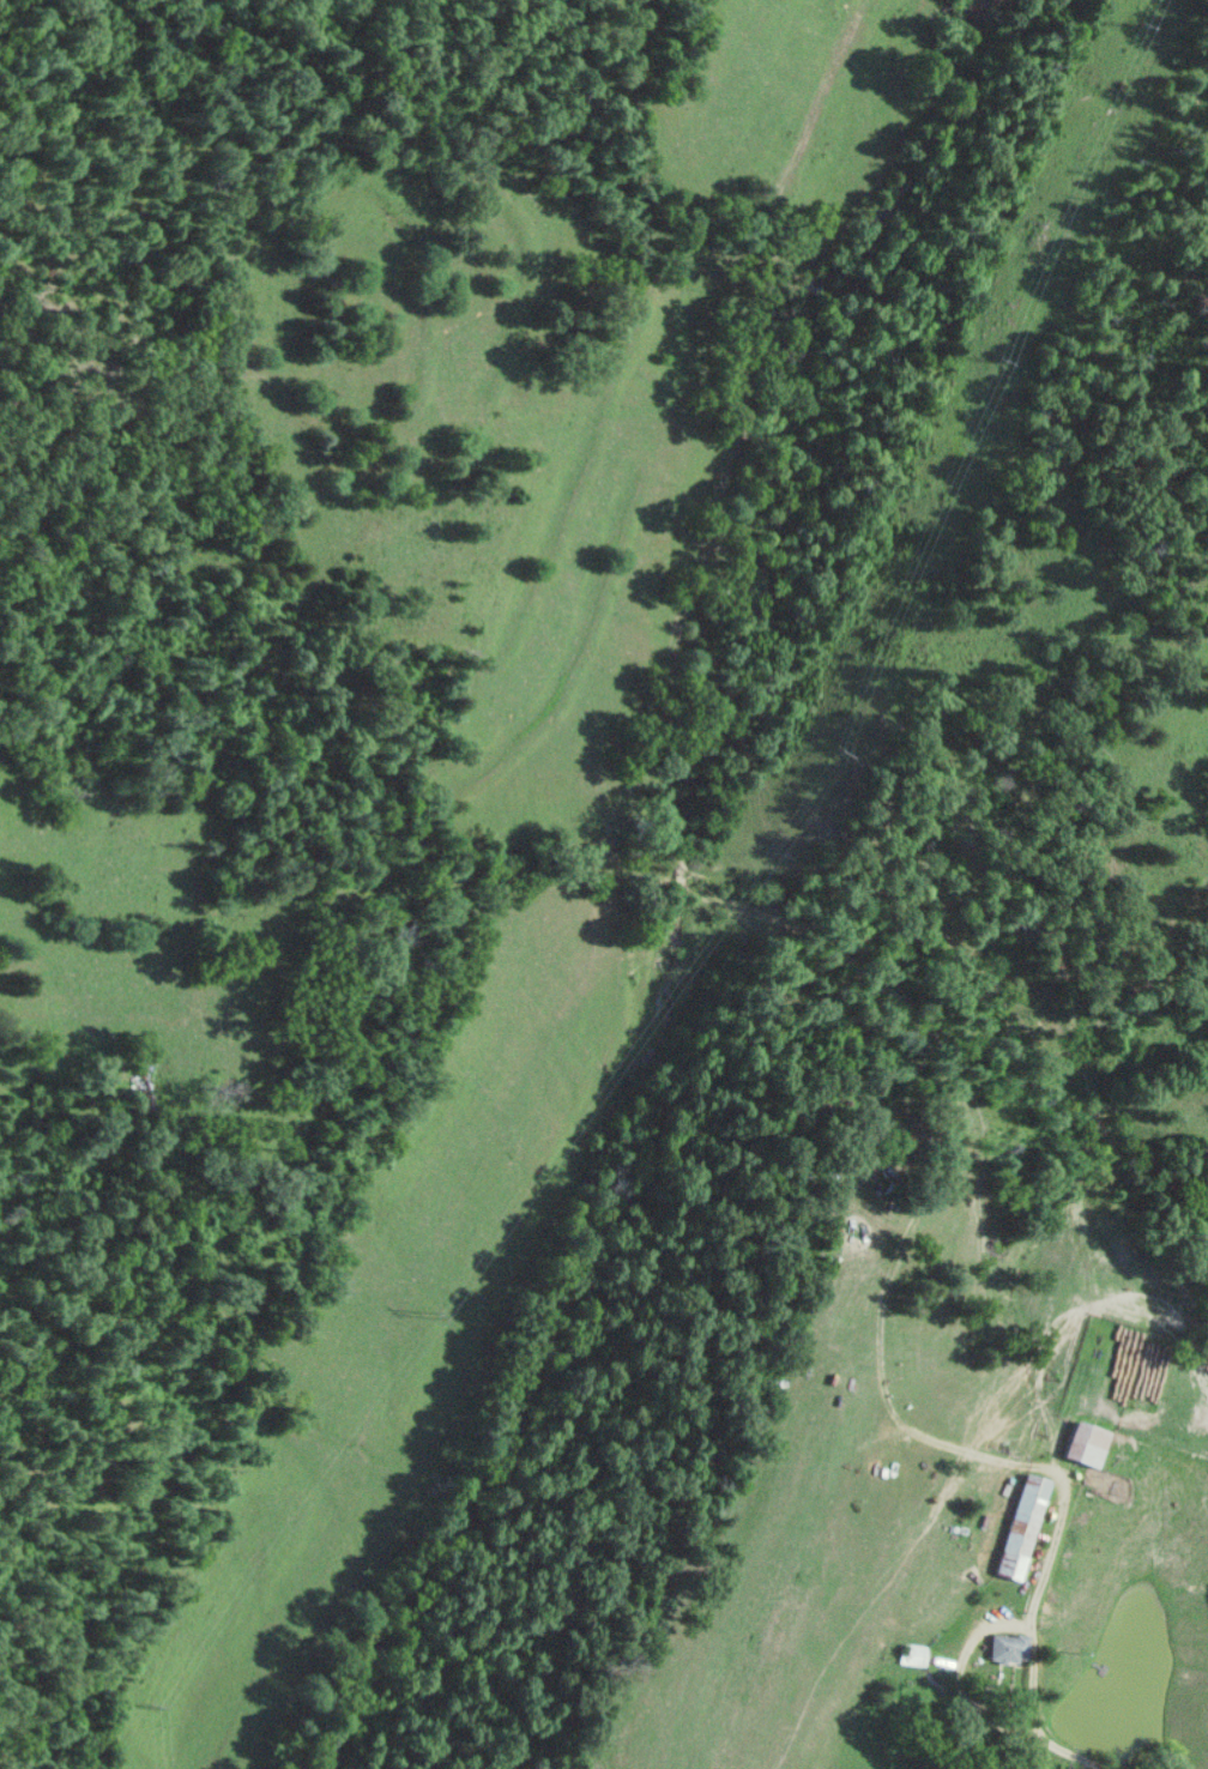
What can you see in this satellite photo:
building: (1086, 1443)
building: (1022, 1526)
road: (980, 1630)
building: (1007, 1648)
building: (911, 1654)
road: (1075, 1752)

